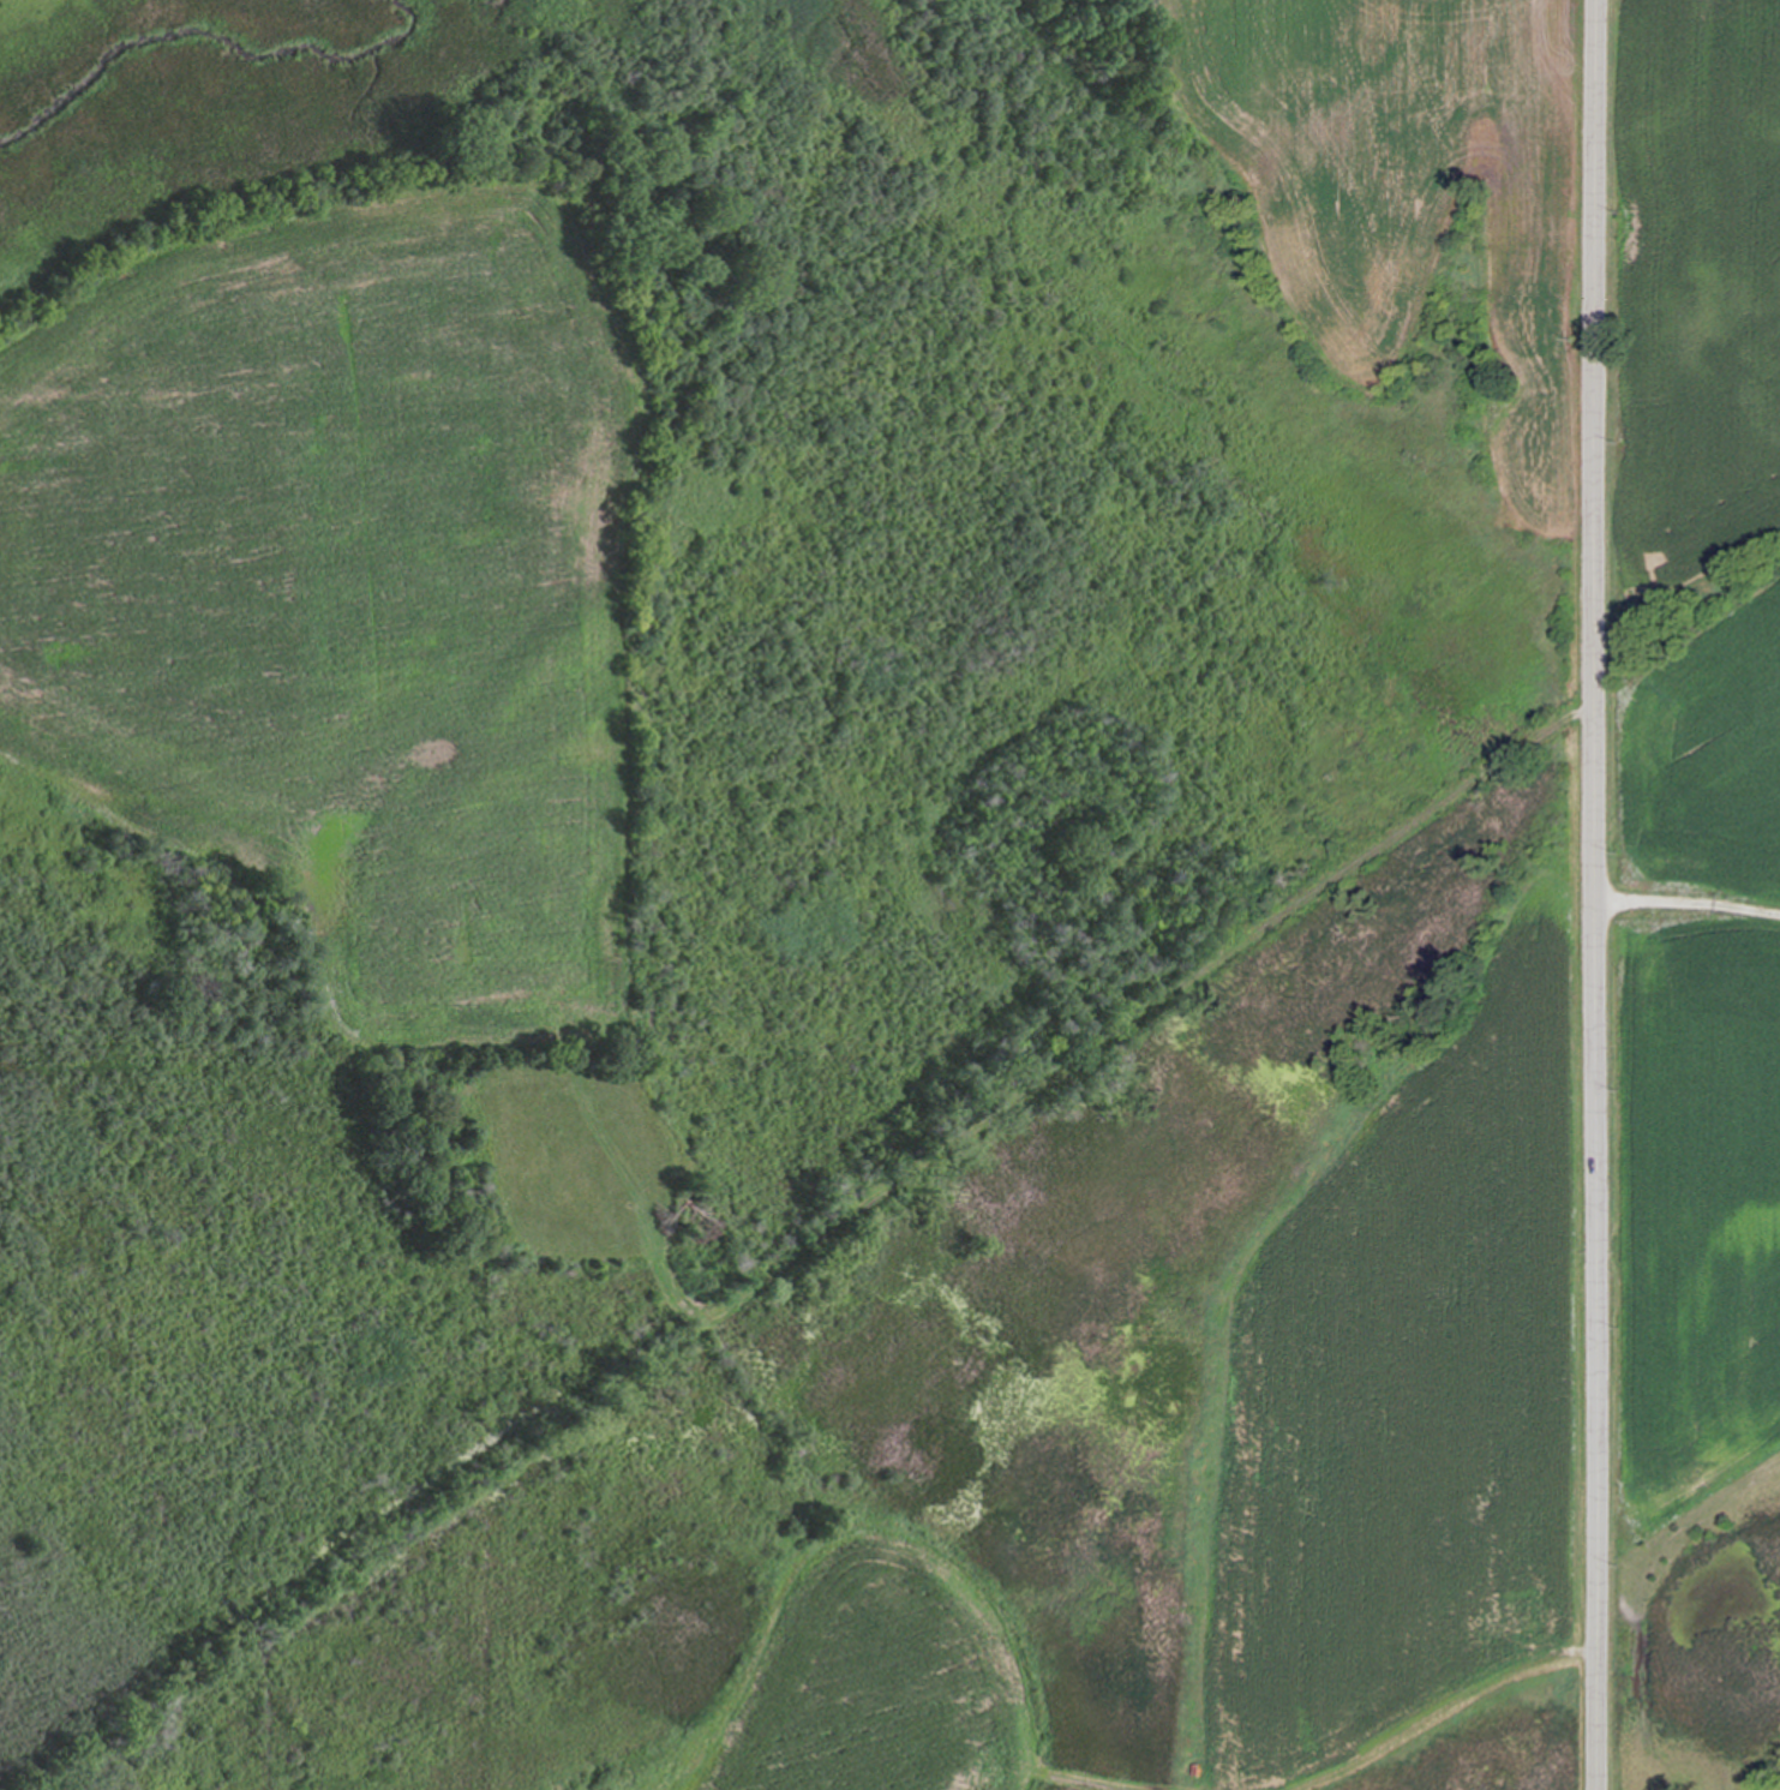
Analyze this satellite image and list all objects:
road: (1601, 894)
road: (1691, 904)

